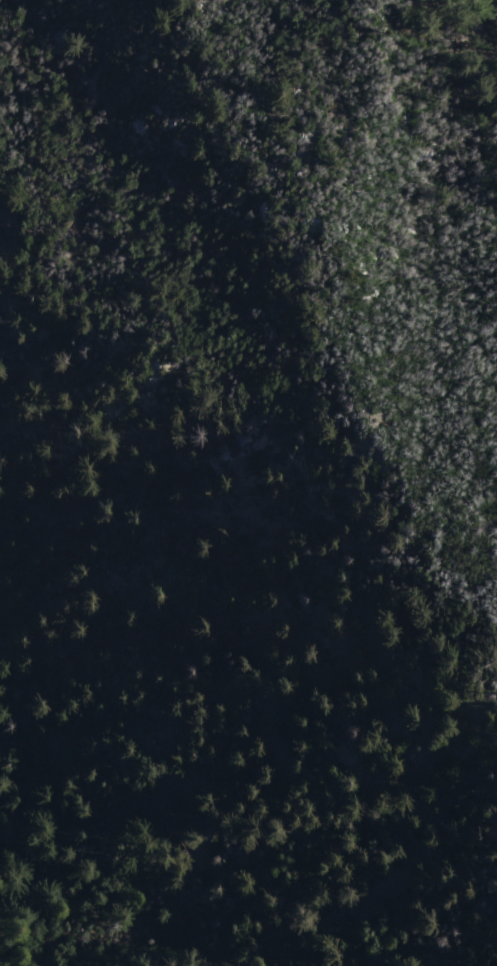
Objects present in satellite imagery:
road: (17, 523)
road: (186, 636)
road: (7, 637)
road: (5, 737)

